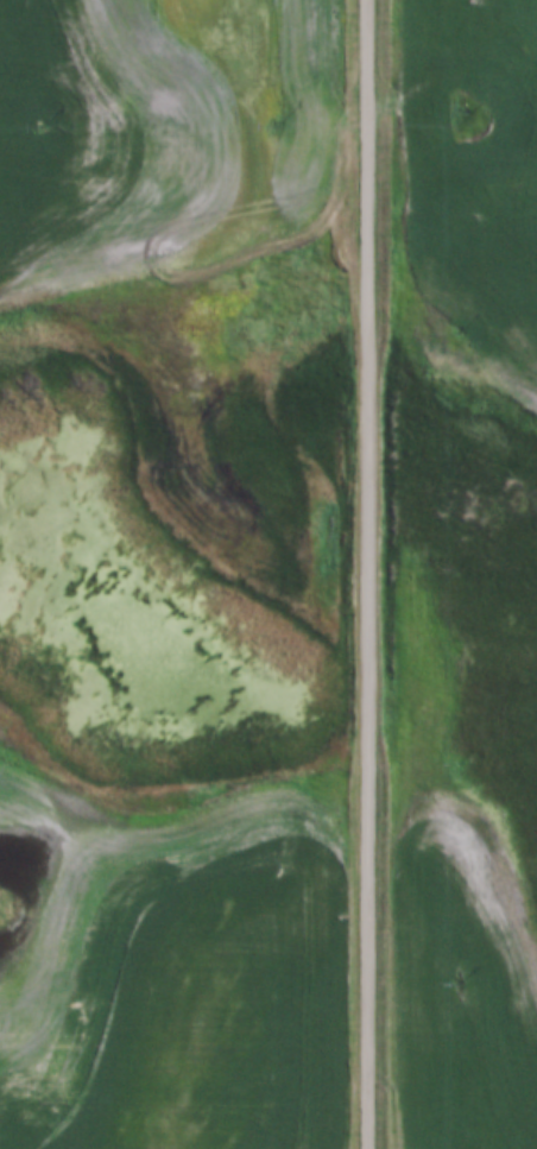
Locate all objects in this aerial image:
road: (368, 574)

